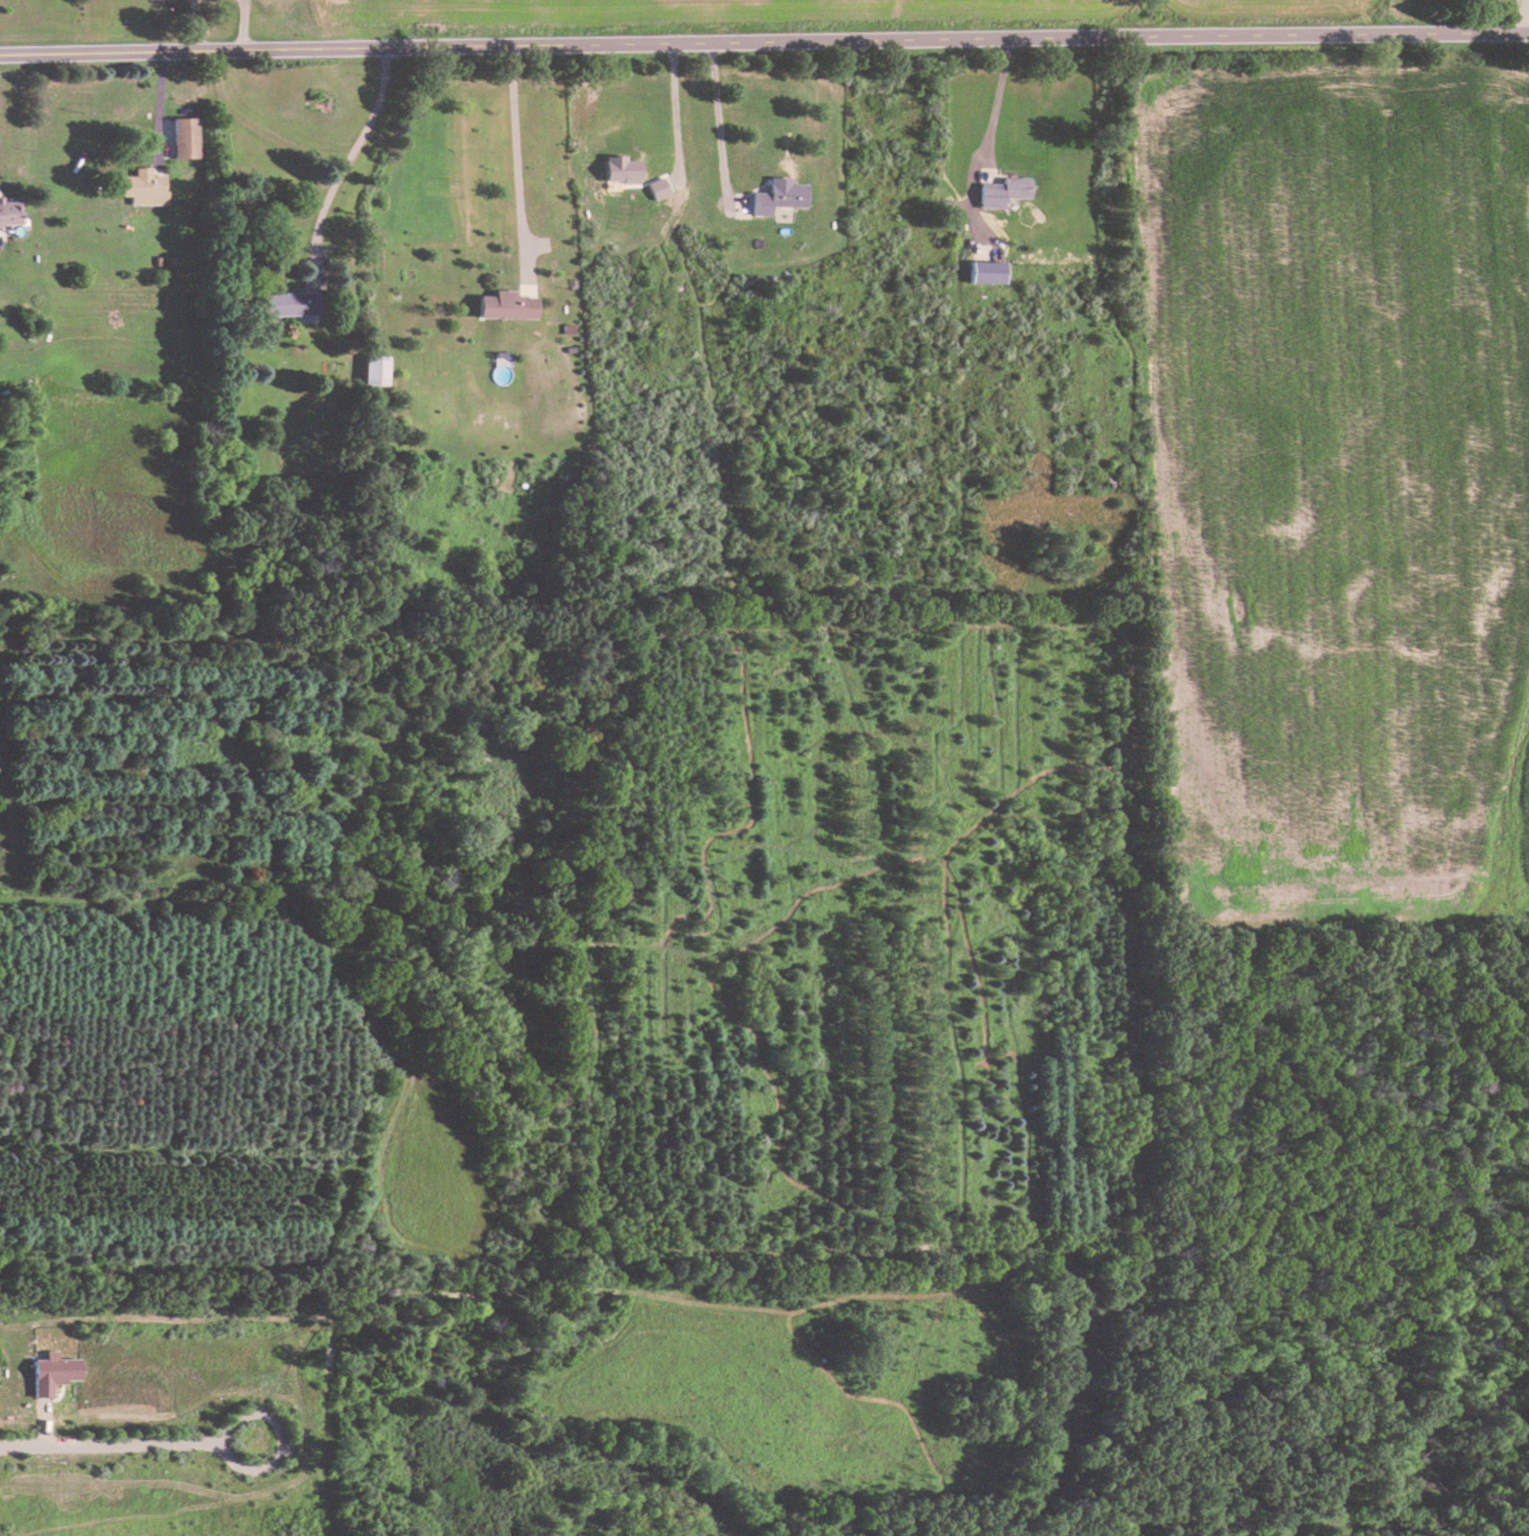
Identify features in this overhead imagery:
road: (764, 37)
road: (998, 96)
road: (677, 104)
road: (720, 122)
building: (185, 138)
road: (353, 150)
road: (516, 152)
building: (624, 158)
building: (144, 188)
building: (658, 188)
building: (1004, 192)
building: (779, 198)
building: (9, 214)
building: (292, 304)
building: (509, 305)
building: (376, 370)
road: (127, 1442)

